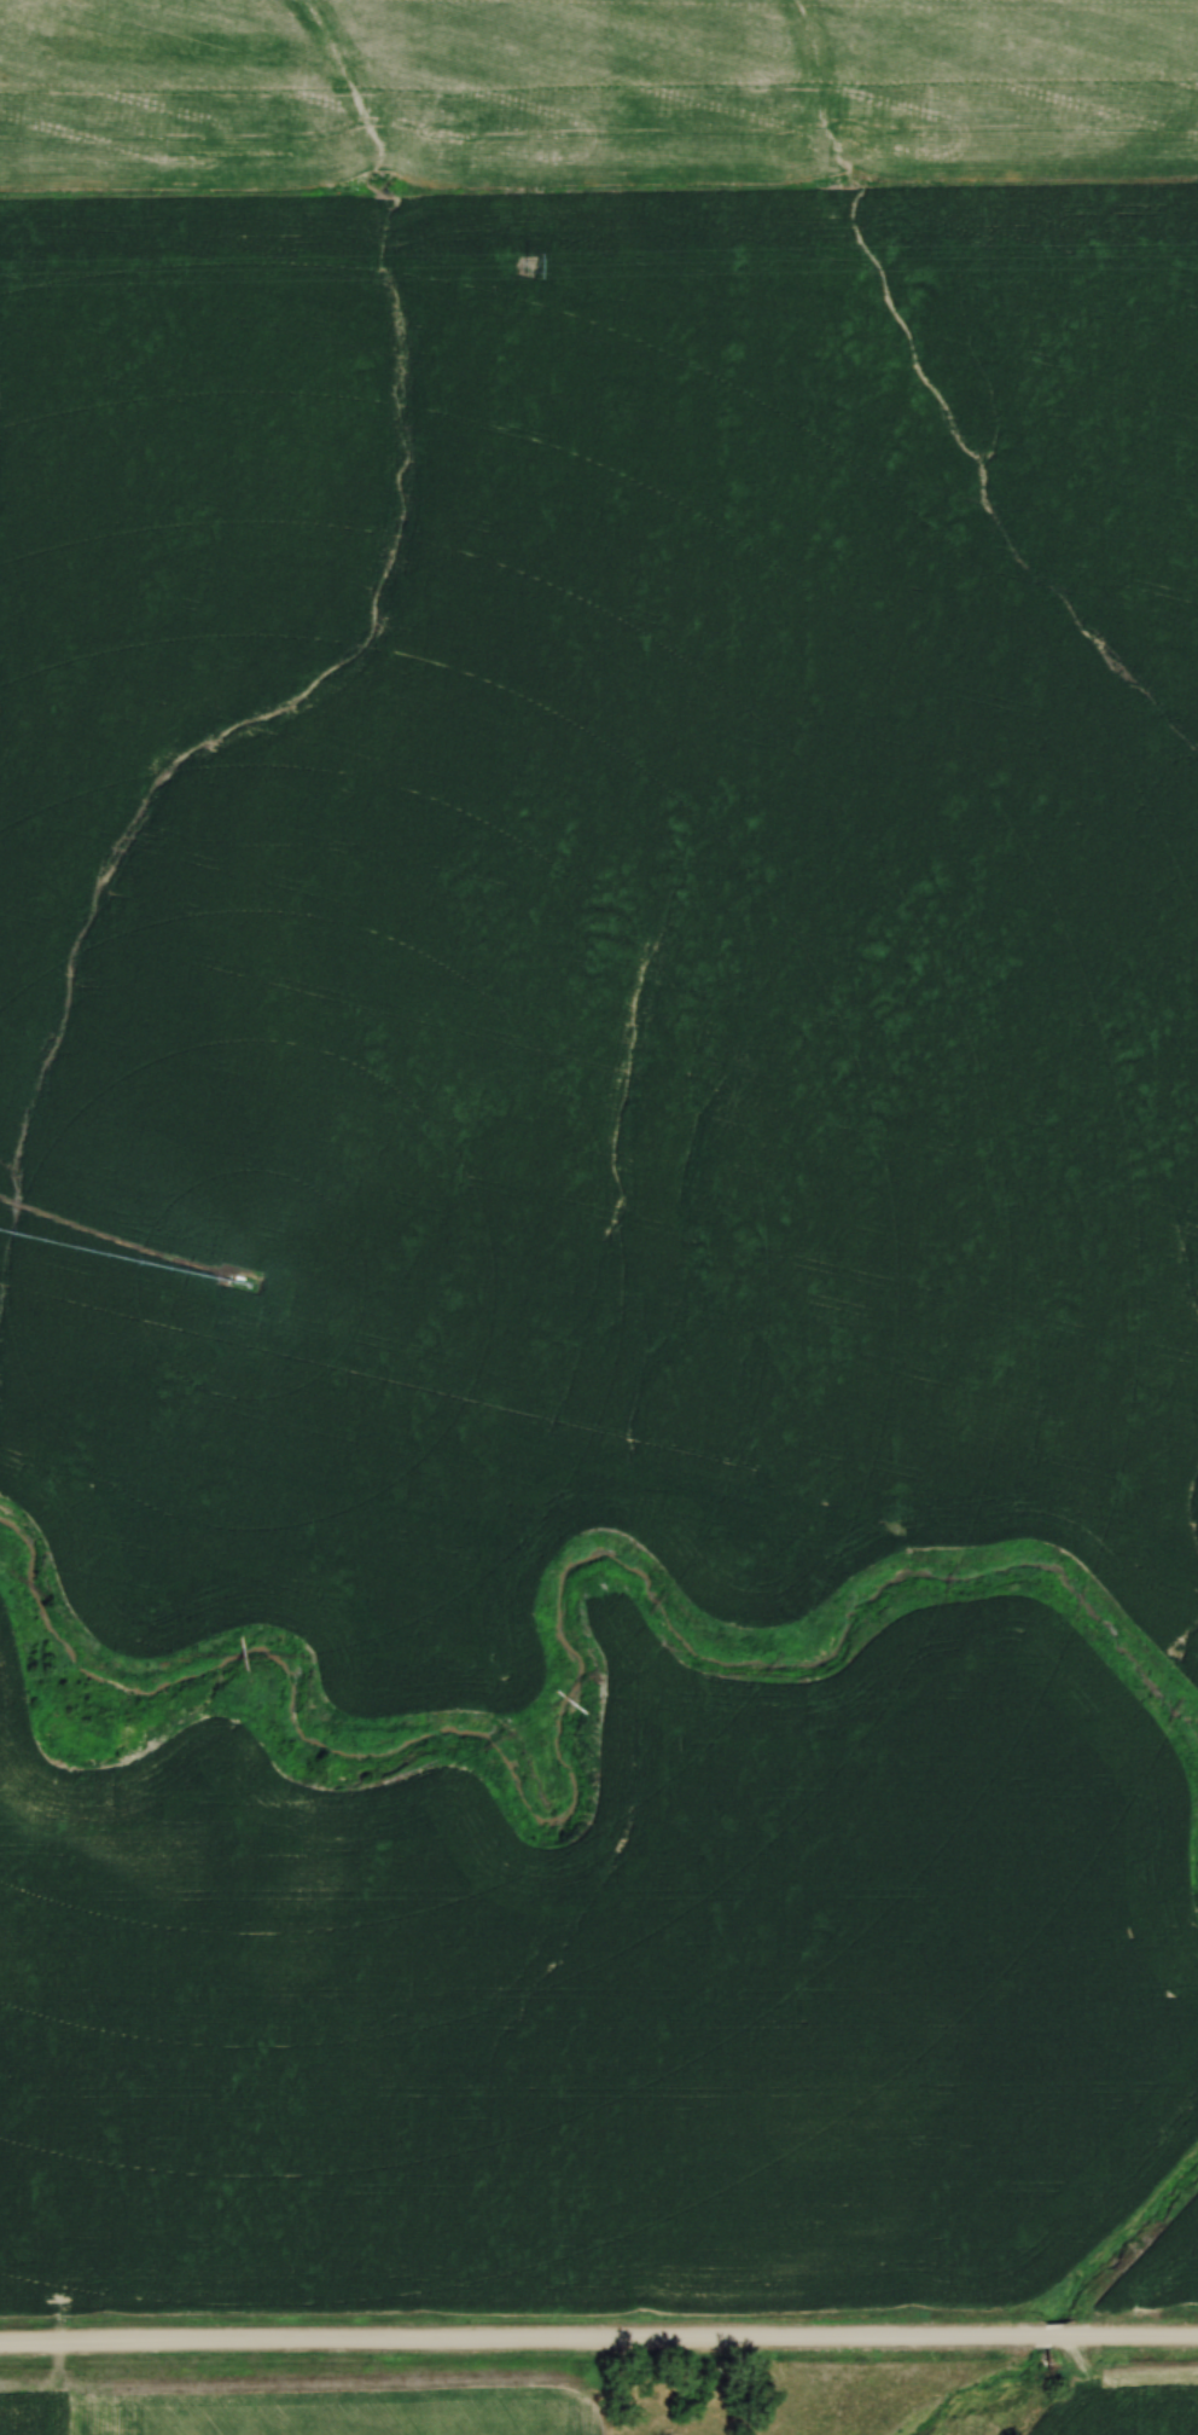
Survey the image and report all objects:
power tower: (519, 261)
river: (569, 1695)
road: (598, 2342)

